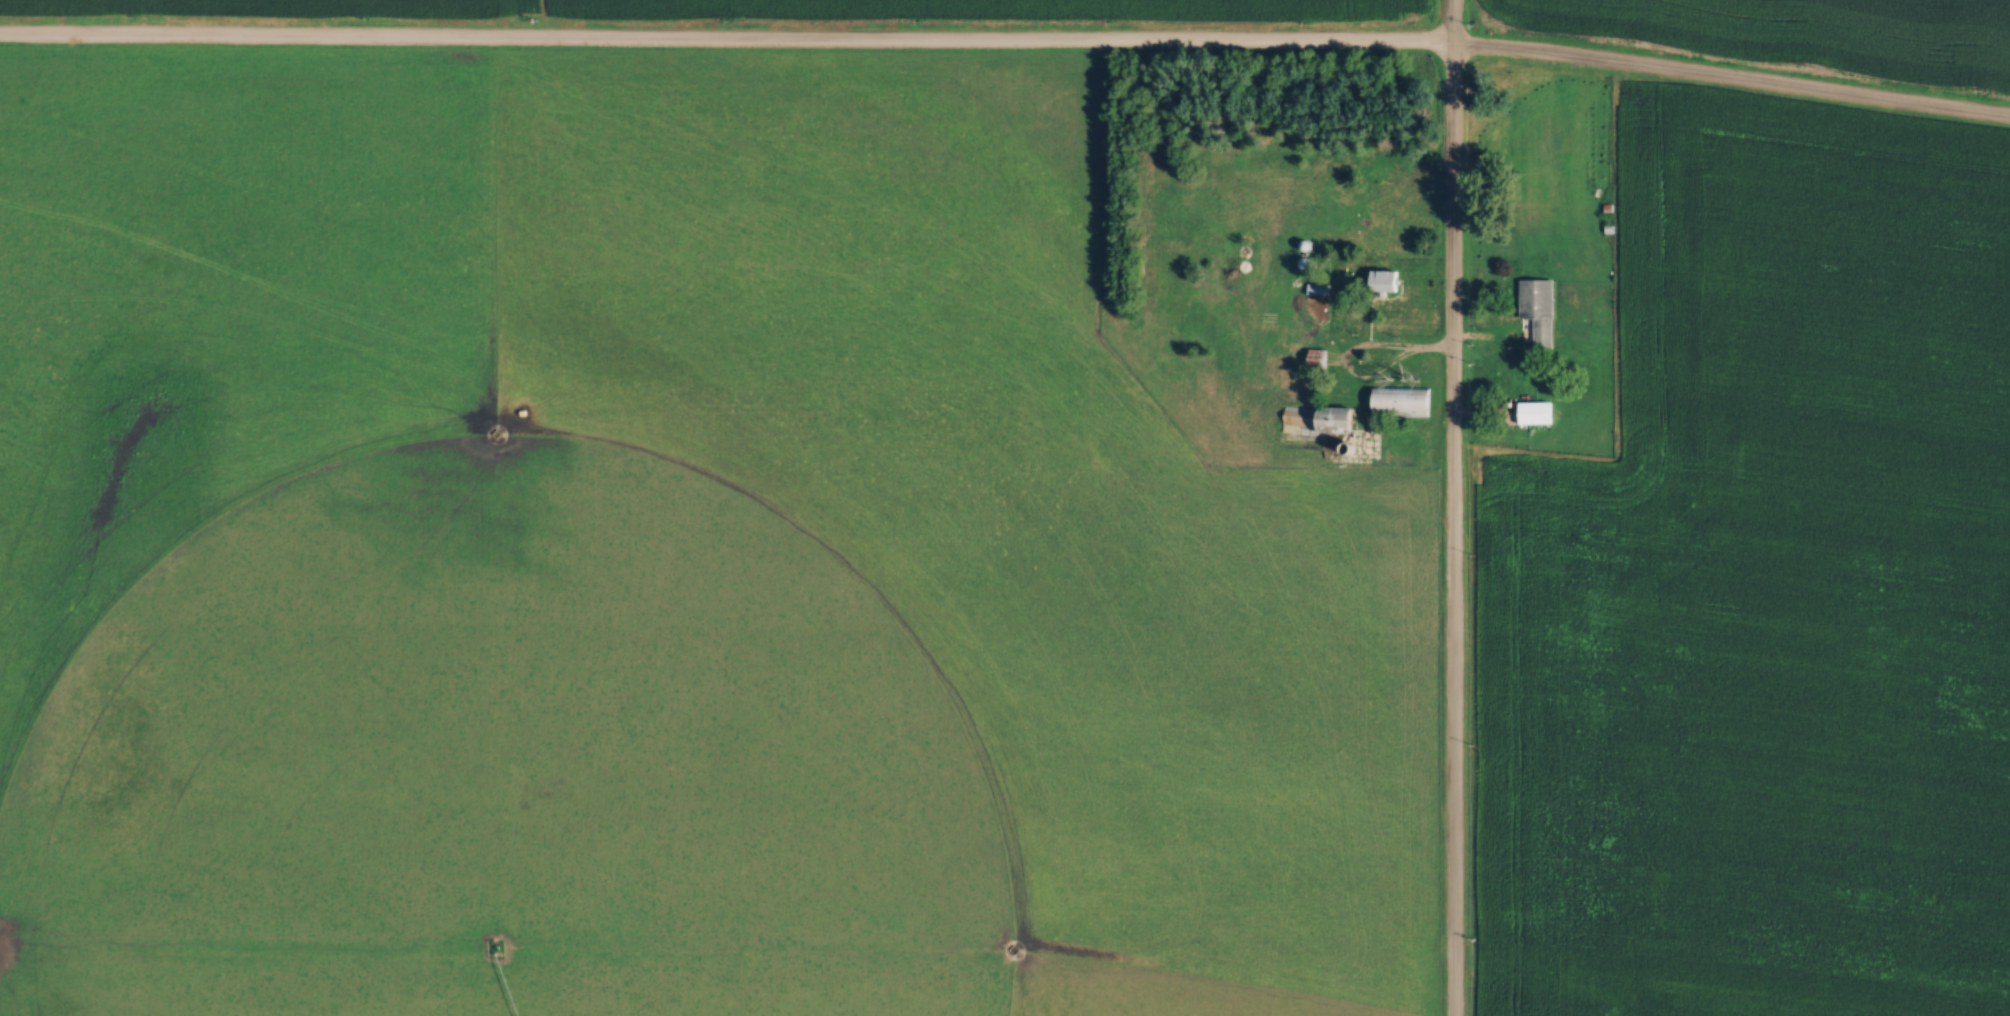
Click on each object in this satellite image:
road: (1007, 41)
building: (1383, 278)
building: (1314, 287)
building: (1537, 306)
building: (1315, 355)
building: (1402, 400)
building: (1534, 409)
building: (1317, 421)
road: (1450, 508)

